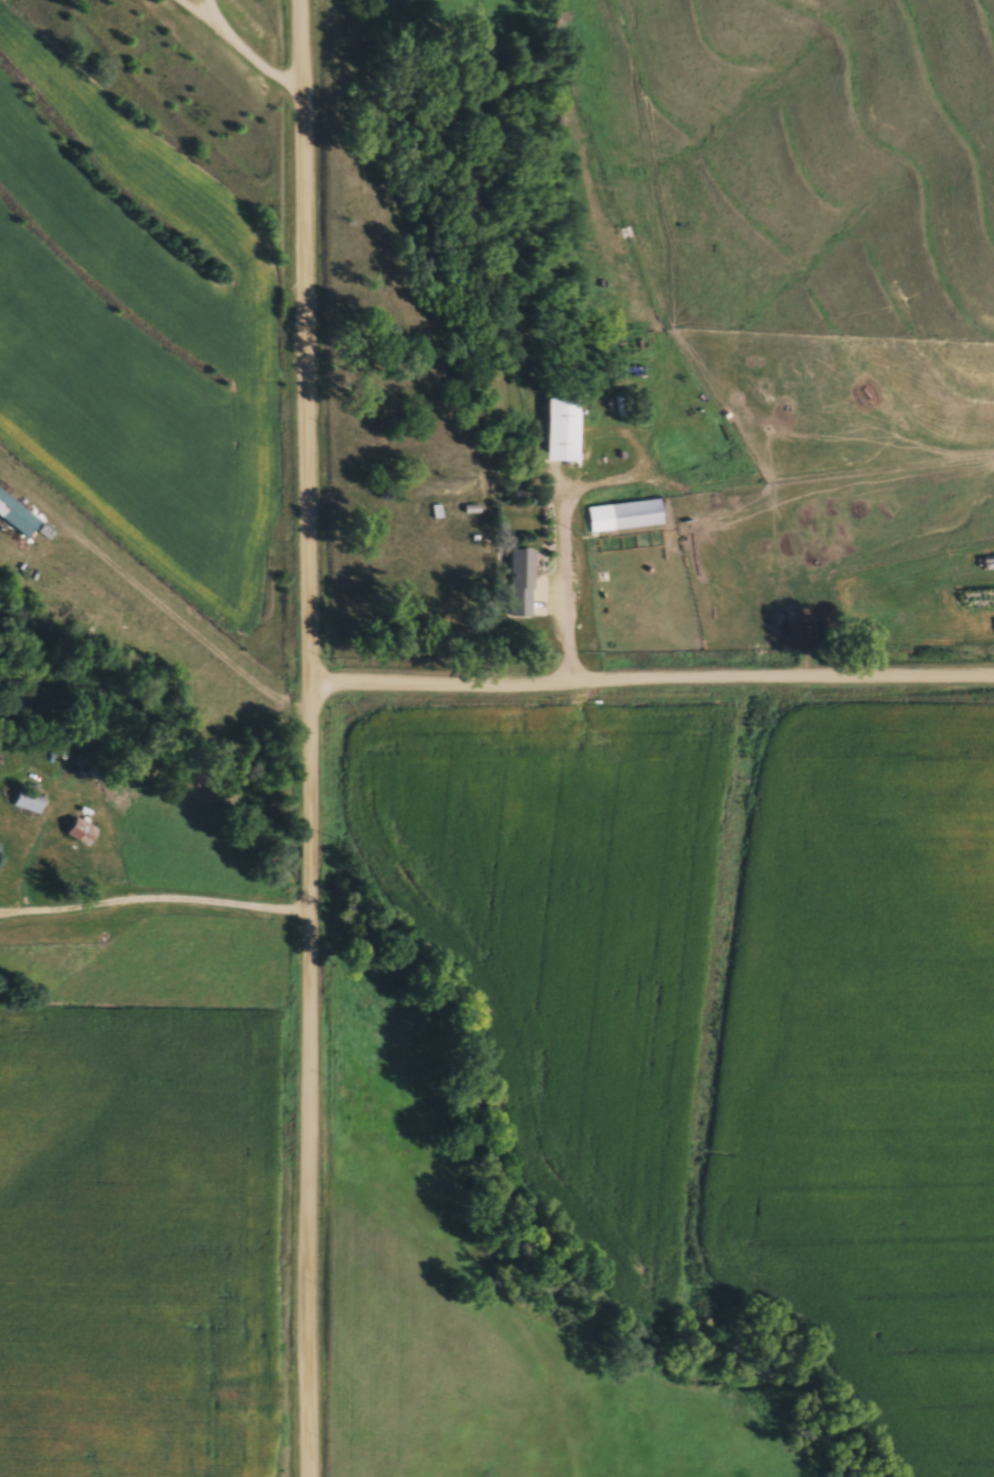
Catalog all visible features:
road: (244, 42)
road: (305, 343)
road: (899, 449)
road: (564, 569)
road: (651, 686)
road: (154, 896)
road: (309, 1082)

